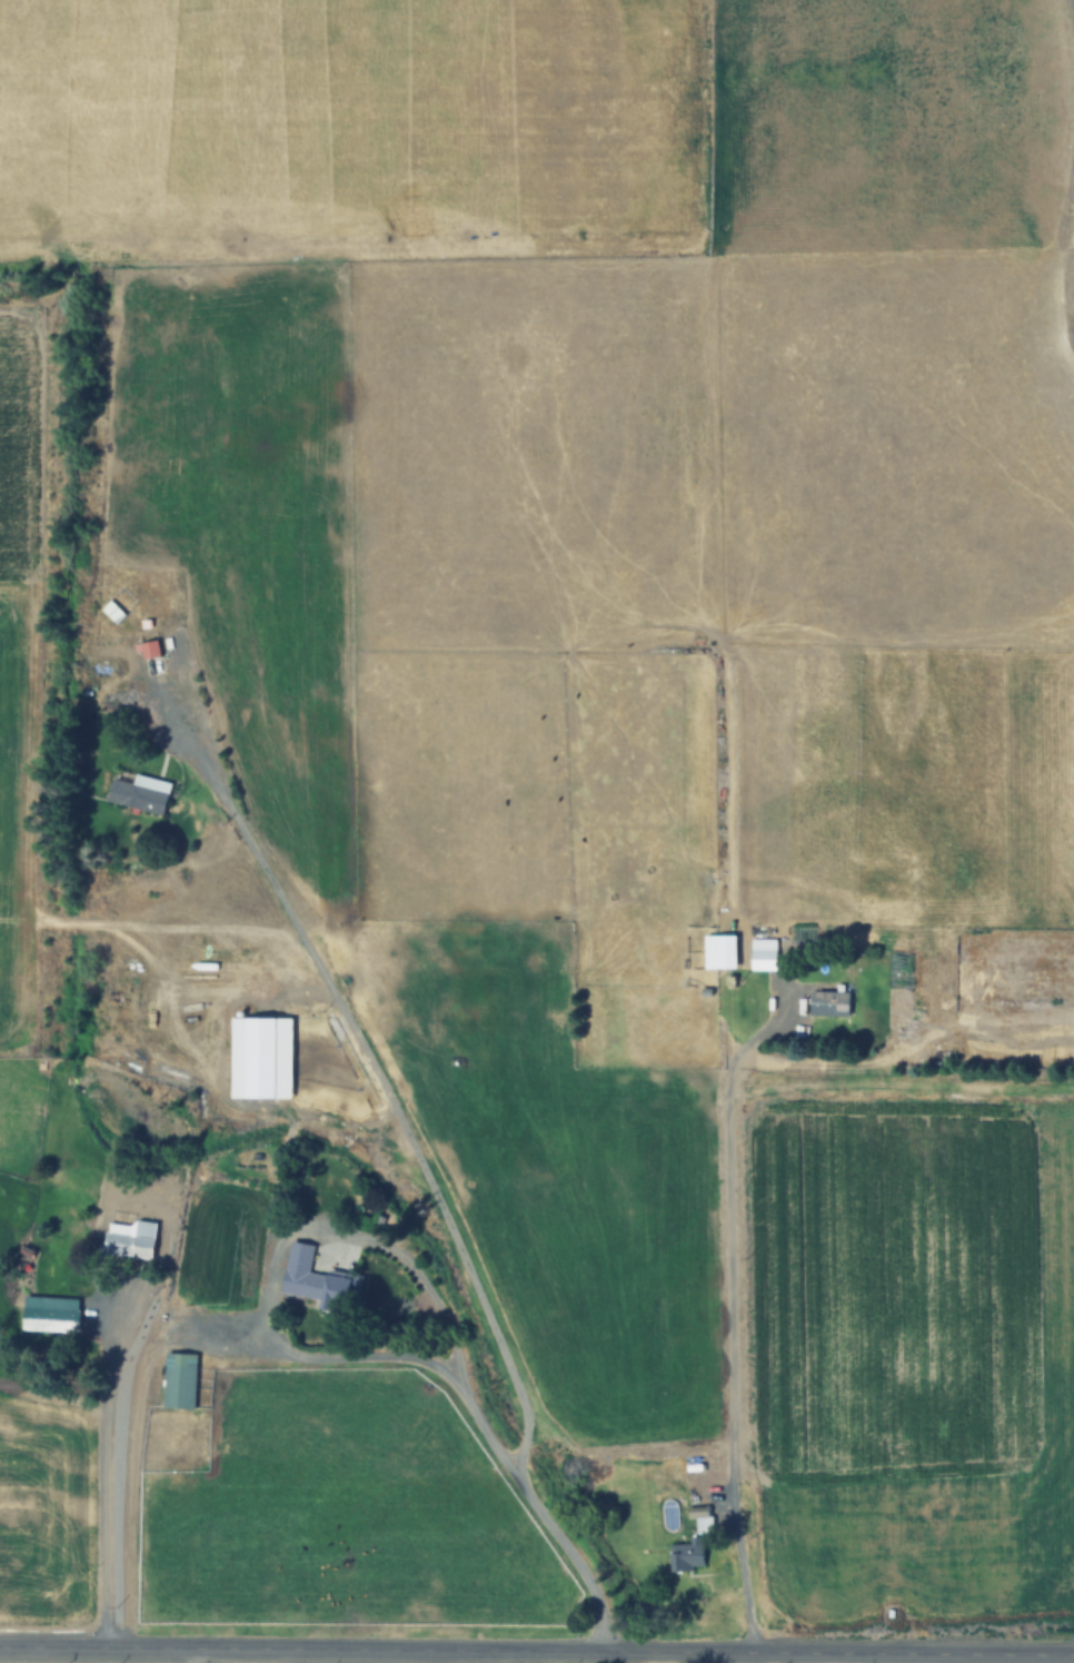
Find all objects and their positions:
building: (115, 611)
building: (153, 656)
building: (142, 794)
building: (722, 952)
building: (765, 953)
building: (831, 1002)
building: (262, 1058)
building: (131, 1239)
building: (320, 1280)
building: (52, 1310)
building: (181, 1380)
building: (689, 1554)
road: (537, 1651)

